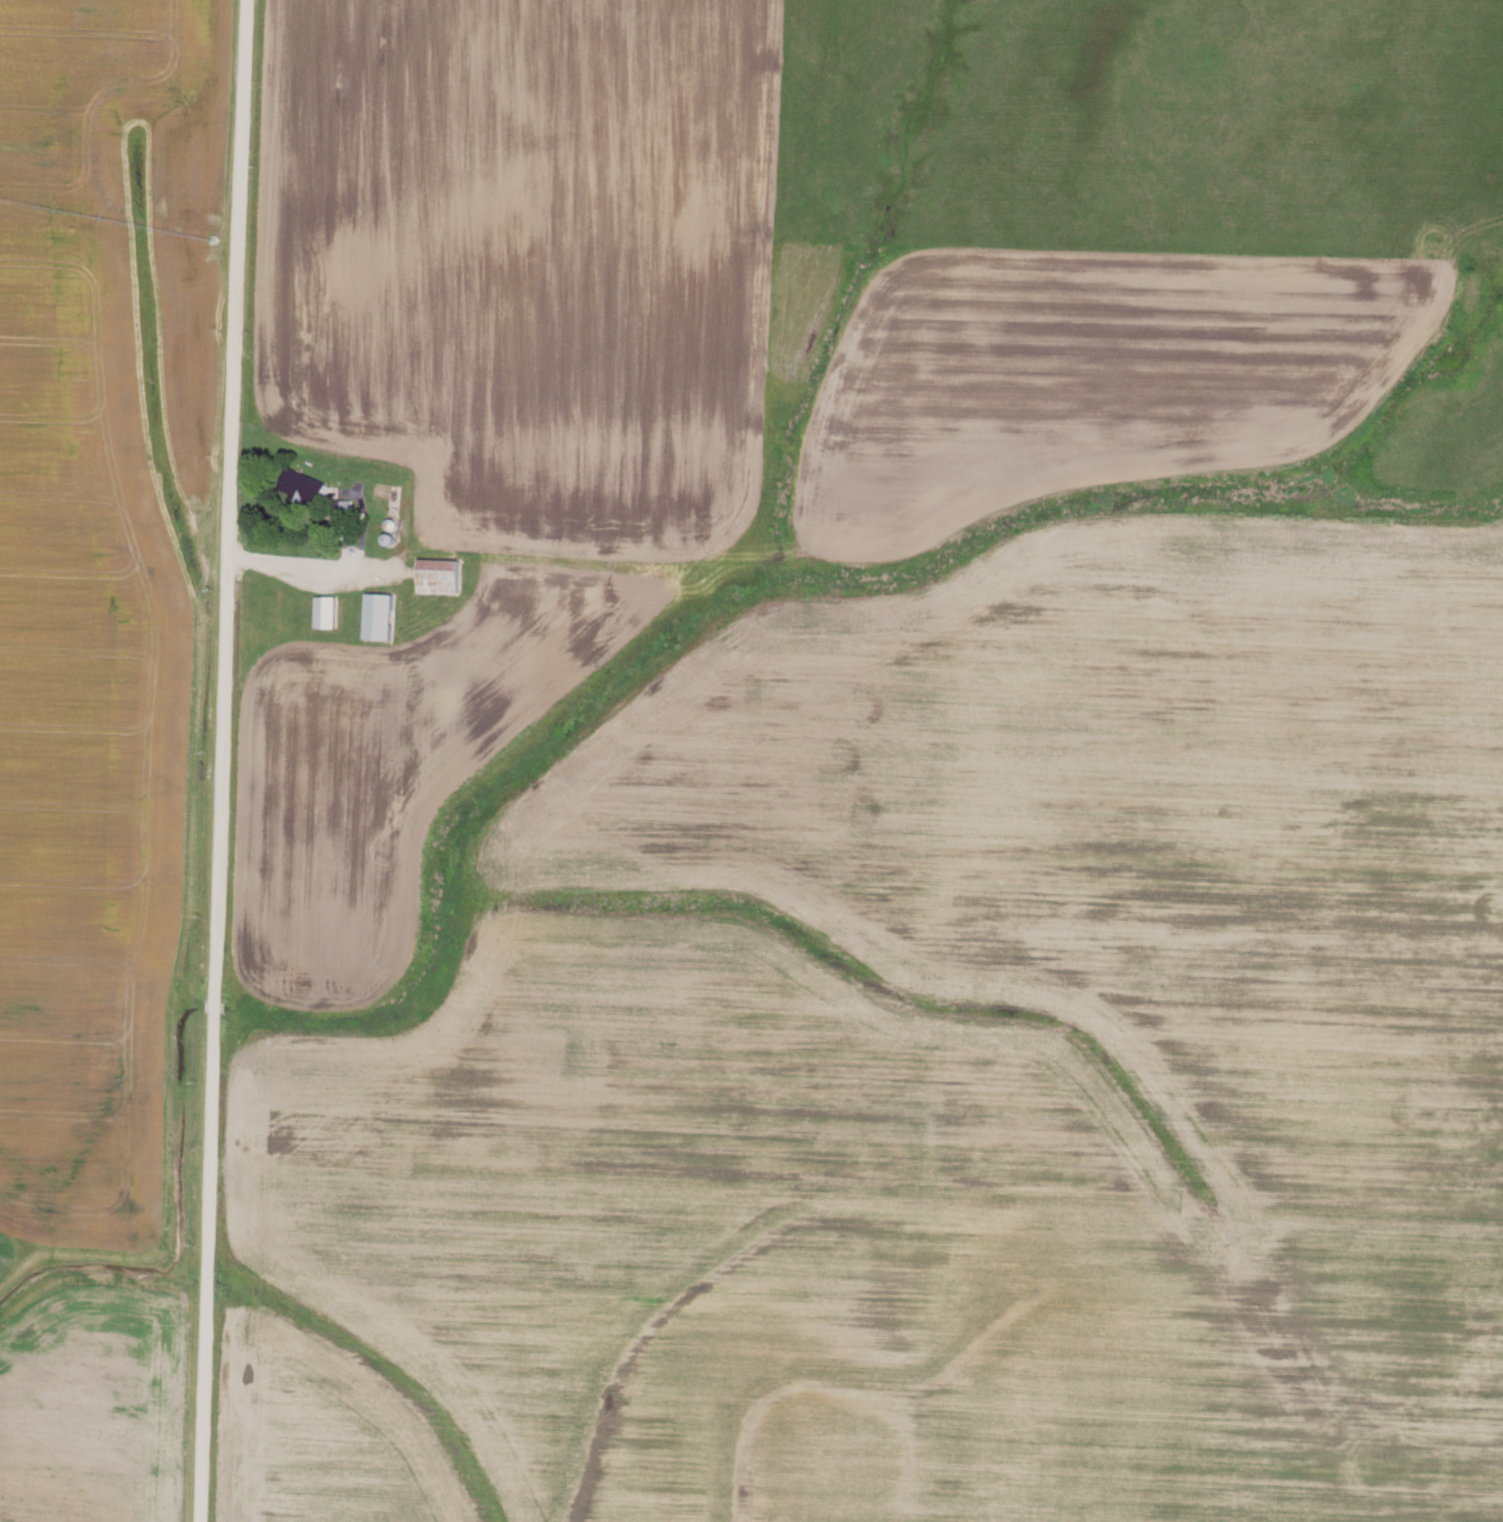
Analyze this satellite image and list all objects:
building: (346, 505)
road: (319, 568)
building: (327, 609)
building: (381, 614)
road: (223, 760)

